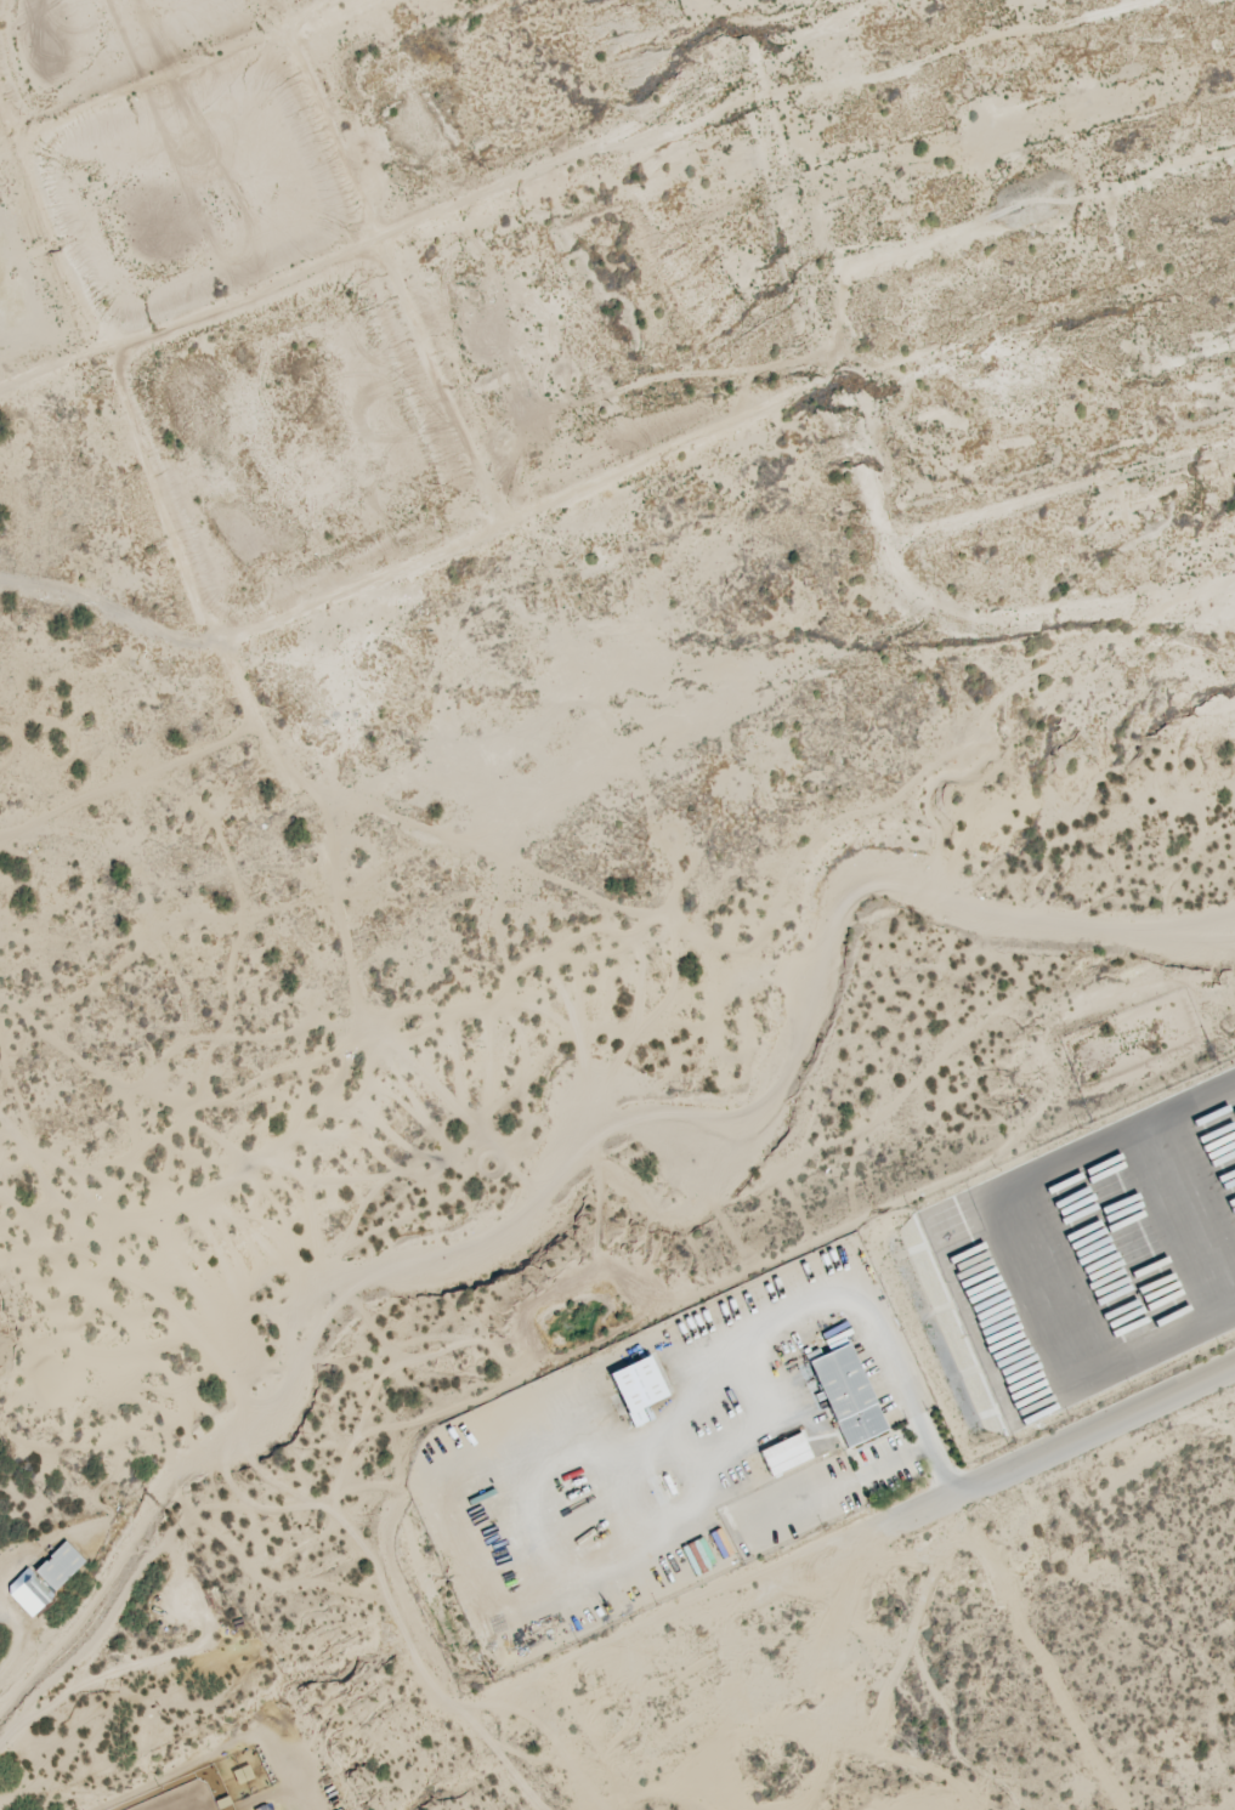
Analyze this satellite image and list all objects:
building: (636, 1389)
building: (845, 1395)
road: (1066, 1434)
building: (784, 1454)
building: (58, 1567)
building: (35, 1591)
road: (18, 1636)

